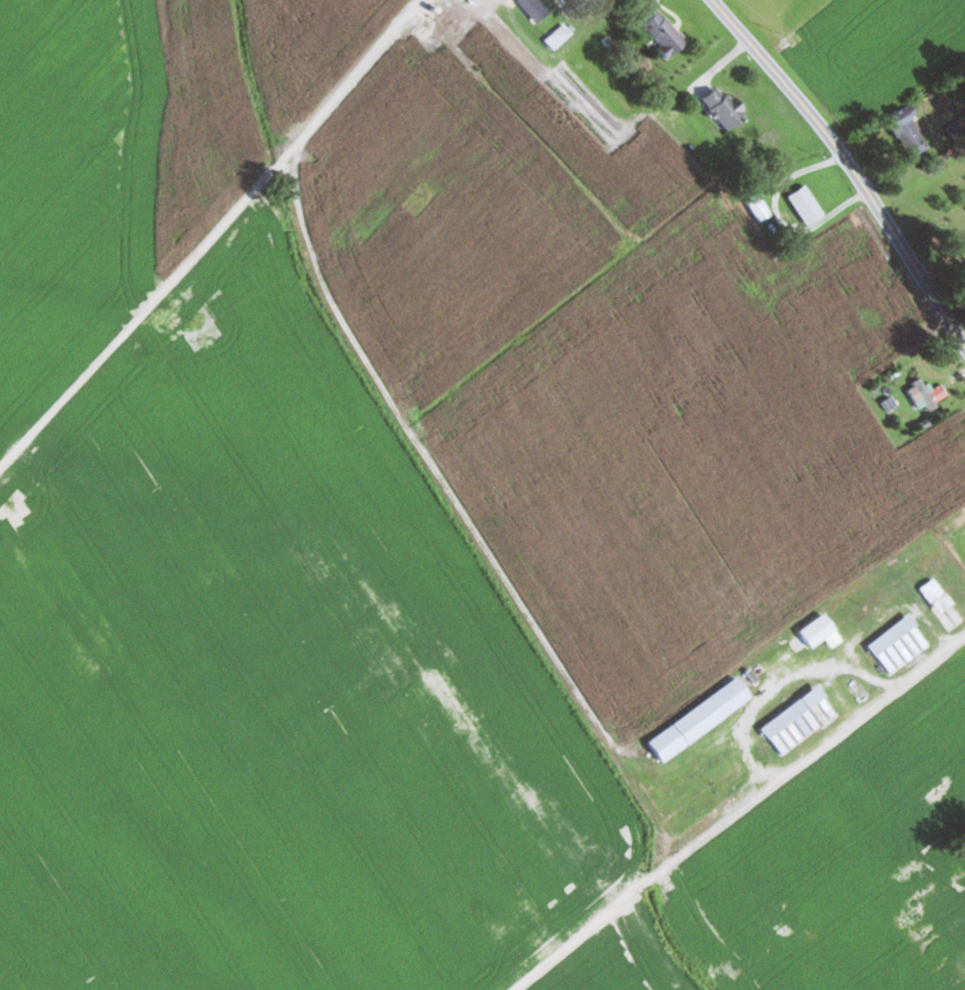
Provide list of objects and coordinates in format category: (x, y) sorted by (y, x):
building: (481, 6)
building: (663, 35)
building: (559, 36)
building: (726, 109)
building: (909, 131)
road: (850, 166)
building: (807, 204)
road: (213, 235)
building: (930, 392)
building: (931, 560)
building: (943, 604)
building: (900, 644)
building: (800, 720)
road: (736, 811)

